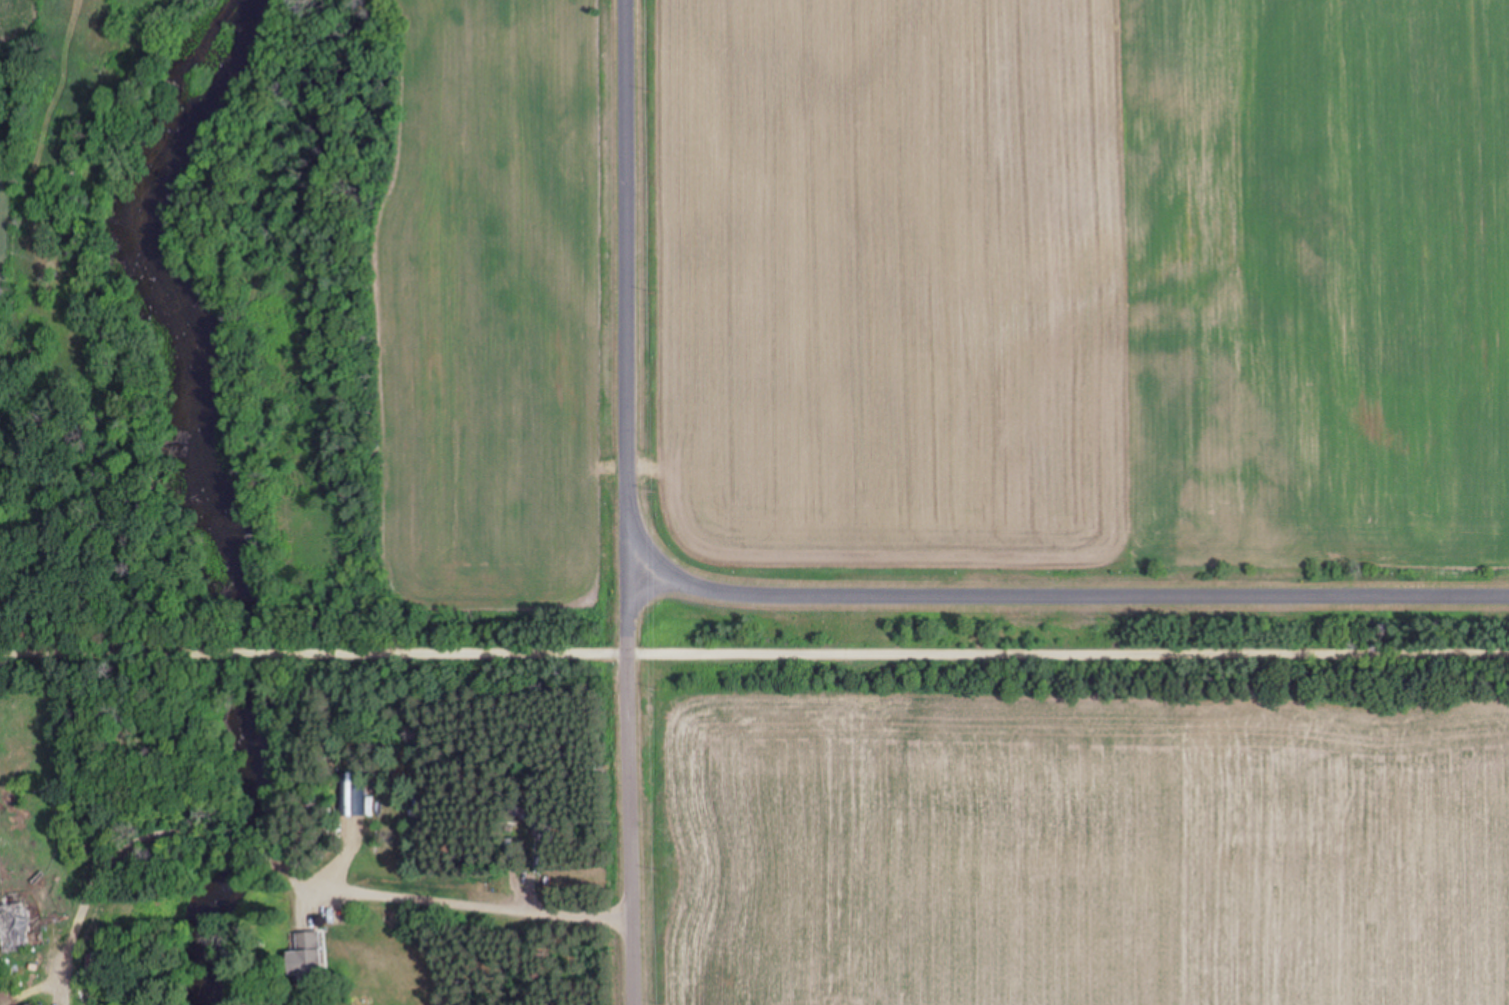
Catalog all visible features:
road: (629, 502)
road: (1049, 596)
road: (119, 653)
road: (249, 654)
road: (884, 654)
building: (351, 794)
road: (292, 868)
building: (10, 928)
building: (305, 960)

